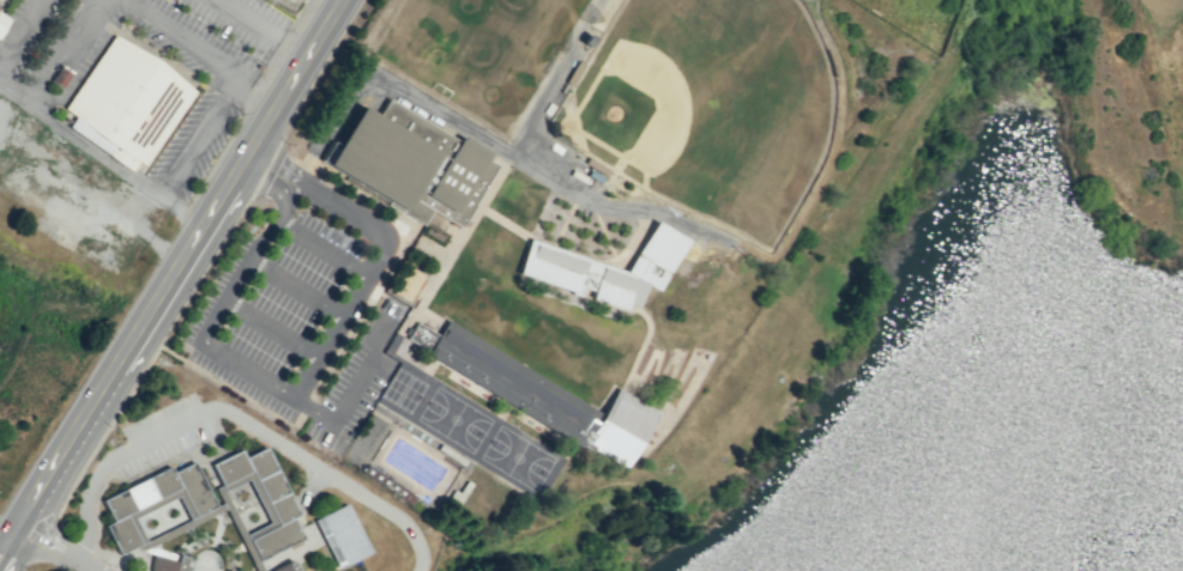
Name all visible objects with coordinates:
building: (1, 2)
park: (303, 12)
building: (2, 22)
road: (200, 53)
crop: (1080, 98)
building: (129, 102)
park: (714, 110)
road: (62, 132)
road: (199, 141)
building: (410, 163)
building: (604, 268)
road: (171, 283)
building: (406, 284)
crop: (55, 326)
road: (302, 381)
building: (535, 391)
road: (235, 414)
building: (260, 498)
building: (151, 502)
building: (340, 535)
road: (54, 551)
building: (165, 564)
building: (285, 567)
road: (84, 570)

